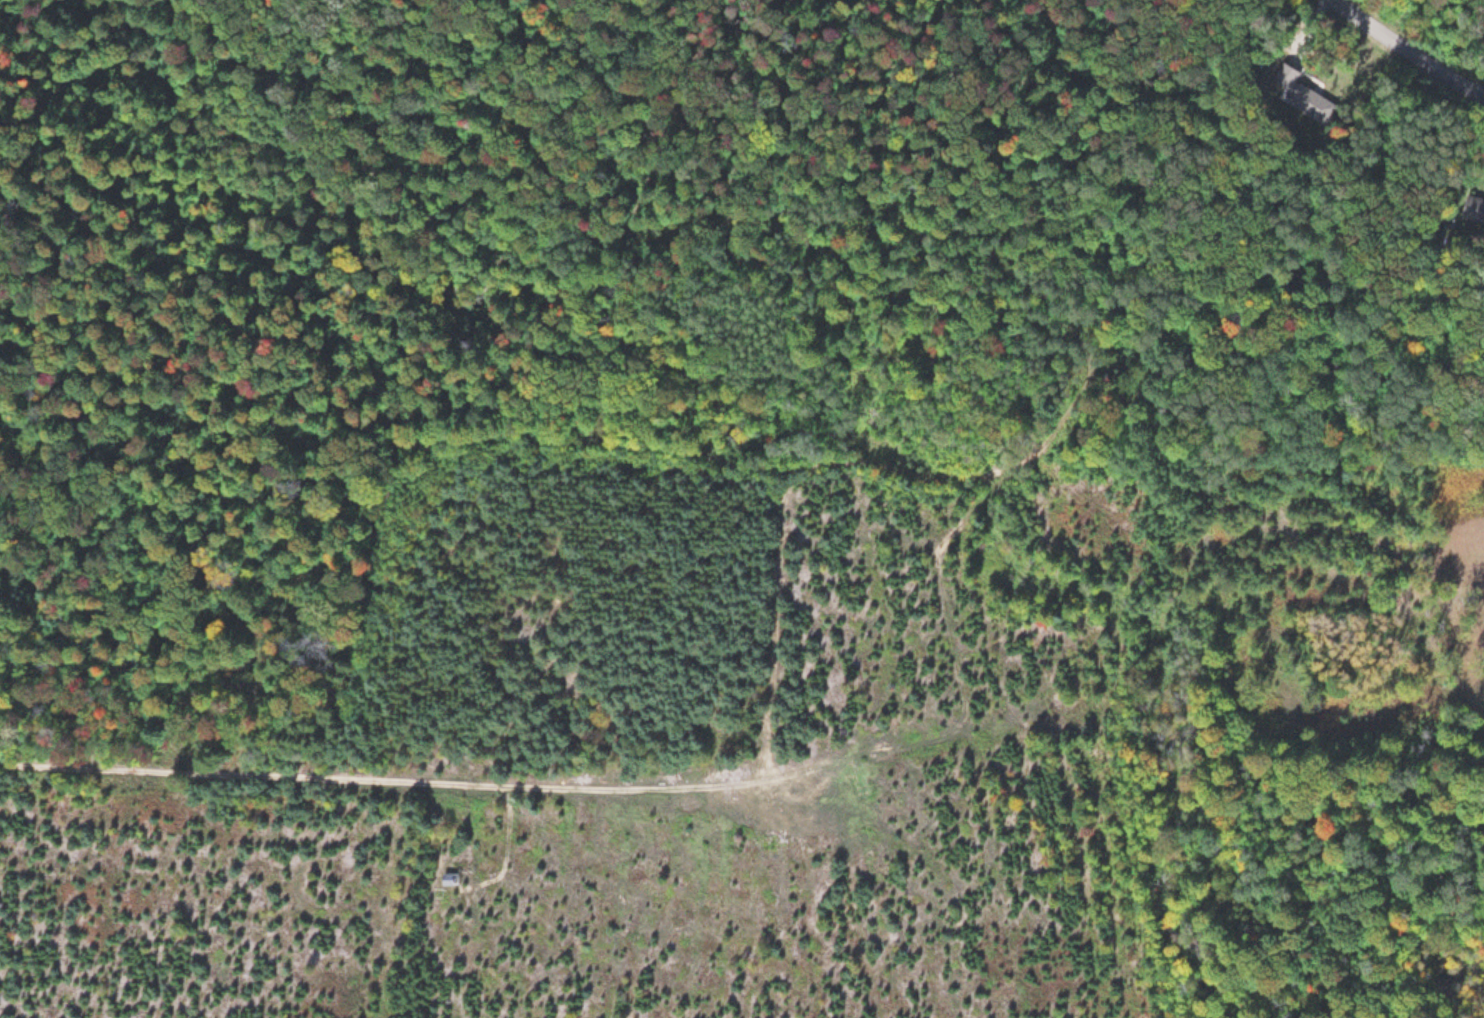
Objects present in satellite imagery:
road: (1409, 49)
building: (1479, 209)

